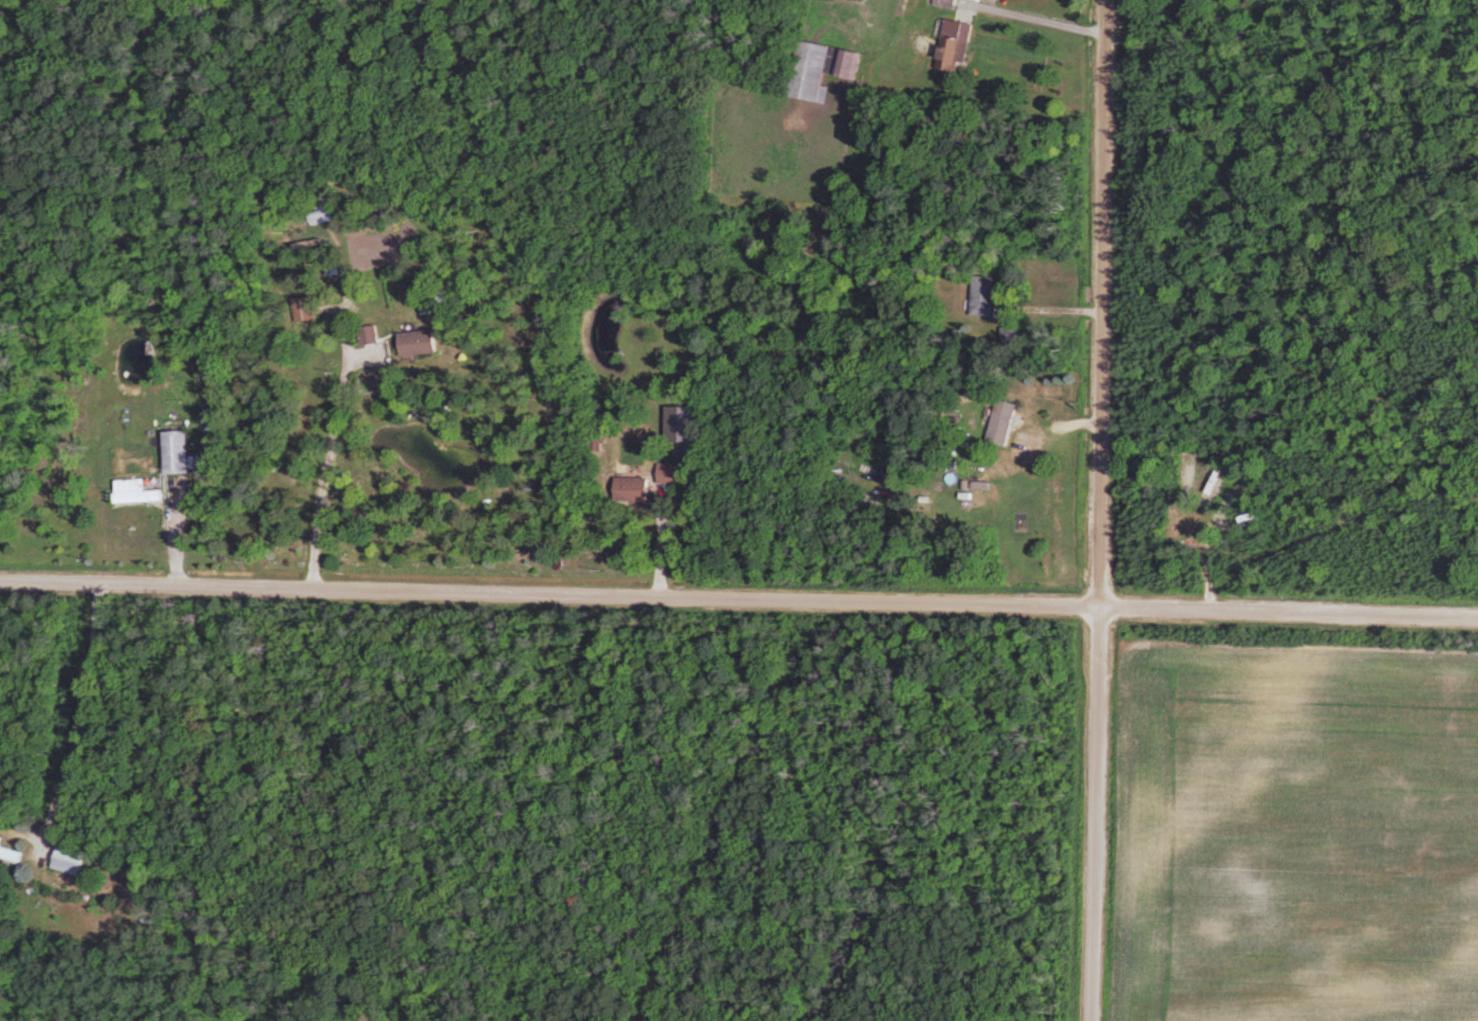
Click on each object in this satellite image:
building: (948, 3)
road: (1033, 20)
building: (957, 45)
building: (826, 69)
building: (987, 294)
road: (1103, 302)
building: (371, 334)
building: (1009, 337)
building: (424, 342)
building: (1003, 422)
road: (329, 446)
building: (181, 452)
building: (674, 472)
building: (640, 487)
building: (138, 491)
building: (1168, 525)
building: (1186, 539)
road: (549, 592)
road: (1288, 611)
road: (75, 713)
road: (1094, 813)
building: (12, 852)
building: (74, 861)

